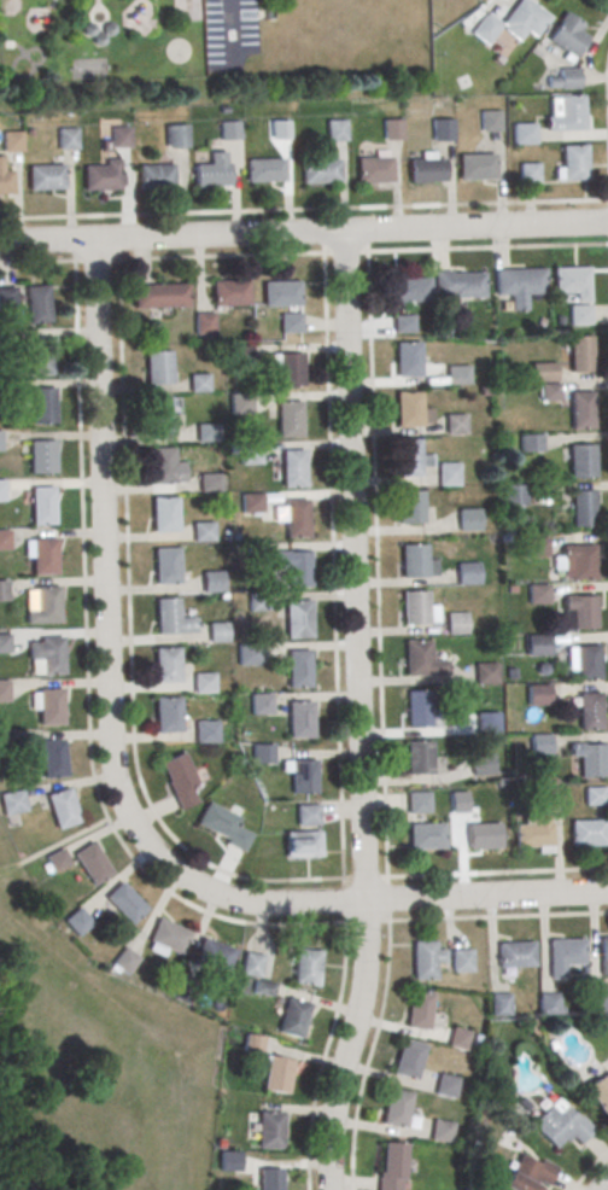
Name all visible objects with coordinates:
road: (602, 5)
building: (524, 22)
road: (232, 27)
building: (485, 31)
parking lot: (229, 34)
building: (568, 37)
building: (566, 78)
road: (607, 80)
building: (567, 117)
building: (491, 123)
building: (229, 128)
building: (392, 128)
building: (442, 128)
building: (337, 130)
building: (174, 134)
building: (119, 136)
building: (524, 136)
building: (66, 138)
building: (11, 140)
building: (475, 165)
building: (574, 167)
building: (264, 169)
building: (374, 169)
building: (426, 169)
building: (211, 170)
building: (320, 170)
building: (530, 174)
building: (154, 175)
building: (45, 176)
building: (101, 176)
building: (5, 179)
road: (303, 209)
road: (303, 232)
road: (487, 249)
road: (36, 262)
building: (571, 281)
building: (457, 284)
building: (519, 284)
building: (409, 288)
building: (229, 292)
building: (281, 293)
building: (160, 294)
building: (7, 296)
building: (37, 303)
building: (579, 315)
building: (203, 321)
building: (290, 322)
building: (580, 352)
building: (39, 355)
building: (408, 358)
building: (159, 367)
building: (290, 368)
building: (543, 372)
building: (456, 374)
building: (198, 383)
building: (549, 391)
building: (240, 402)
building: (41, 404)
building: (408, 408)
building: (580, 409)
building: (158, 414)
road: (372, 418)
building: (288, 419)
building: (455, 422)
building: (206, 432)
building: (0, 439)
building: (531, 443)
building: (249, 451)
building: (41, 456)
building: (408, 456)
building: (581, 460)
building: (160, 463)
building: (293, 467)
building: (448, 473)
building: (209, 482)
building: (0, 489)
building: (515, 494)
building: (251, 502)
building: (41, 506)
building: (409, 507)
building: (583, 507)
building: (163, 514)
building: (296, 517)
building: (469, 519)
building: (201, 531)
building: (4, 538)
building: (537, 546)
building: (42, 555)
building: (414, 560)
building: (578, 560)
building: (165, 564)
road: (103, 566)
road: (333, 566)
building: (298, 567)
building: (468, 572)
building: (211, 581)
building: (1, 590)
building: (538, 591)
building: (257, 601)
building: (46, 603)
building: (415, 607)
building: (584, 611)
building: (166, 616)
building: (297, 618)
building: (457, 623)
building: (217, 632)
building: (4, 643)
building: (538, 644)
building: (249, 654)
building: (49, 655)
building: (417, 657)
building: (586, 661)
building: (165, 664)
building: (298, 667)
building: (485, 672)
building: (201, 682)
building: (2, 689)
building: (538, 694)
building: (261, 704)
building: (49, 706)
building: (417, 707)
building: (589, 710)
road: (359, 712)
building: (166, 713)
building: (299, 719)
building: (487, 721)
building: (204, 731)
building: (538, 743)
building: (262, 754)
building: (52, 758)
building: (419, 758)
building: (590, 759)
building: (481, 764)
road: (136, 766)
building: (302, 776)
building: (179, 778)
building: (594, 795)
road: (100, 799)
building: (11, 801)
building: (458, 801)
building: (417, 803)
building: (60, 807)
building: (308, 813)
building: (222, 824)
building: (585, 832)
building: (425, 834)
building: (532, 834)
building: (483, 835)
building: (303, 842)
road: (54, 846)
building: (57, 861)
building: (90, 863)
road: (388, 899)
building: (124, 902)
building: (76, 921)
building: (168, 935)
building: (211, 953)
building: (514, 955)
building: (562, 955)
building: (603, 955)
building: (425, 959)
building: (124, 961)
building: (461, 961)
building: (251, 963)
building: (306, 966)
building: (181, 988)
building: (597, 1003)
building: (498, 1004)
building: (548, 1004)
building: (419, 1010)
building: (292, 1017)
building: (457, 1039)
road: (368, 1055)
road: (322, 1056)
building: (407, 1058)
park: (94, 1062)
building: (275, 1073)
building: (446, 1085)
building: (598, 1093)
building: (394, 1108)
building: (559, 1125)
building: (268, 1130)
building: (440, 1131)
building: (391, 1165)
road: (589, 1168)
building: (528, 1172)
building: (268, 1179)
road: (603, 1184)

